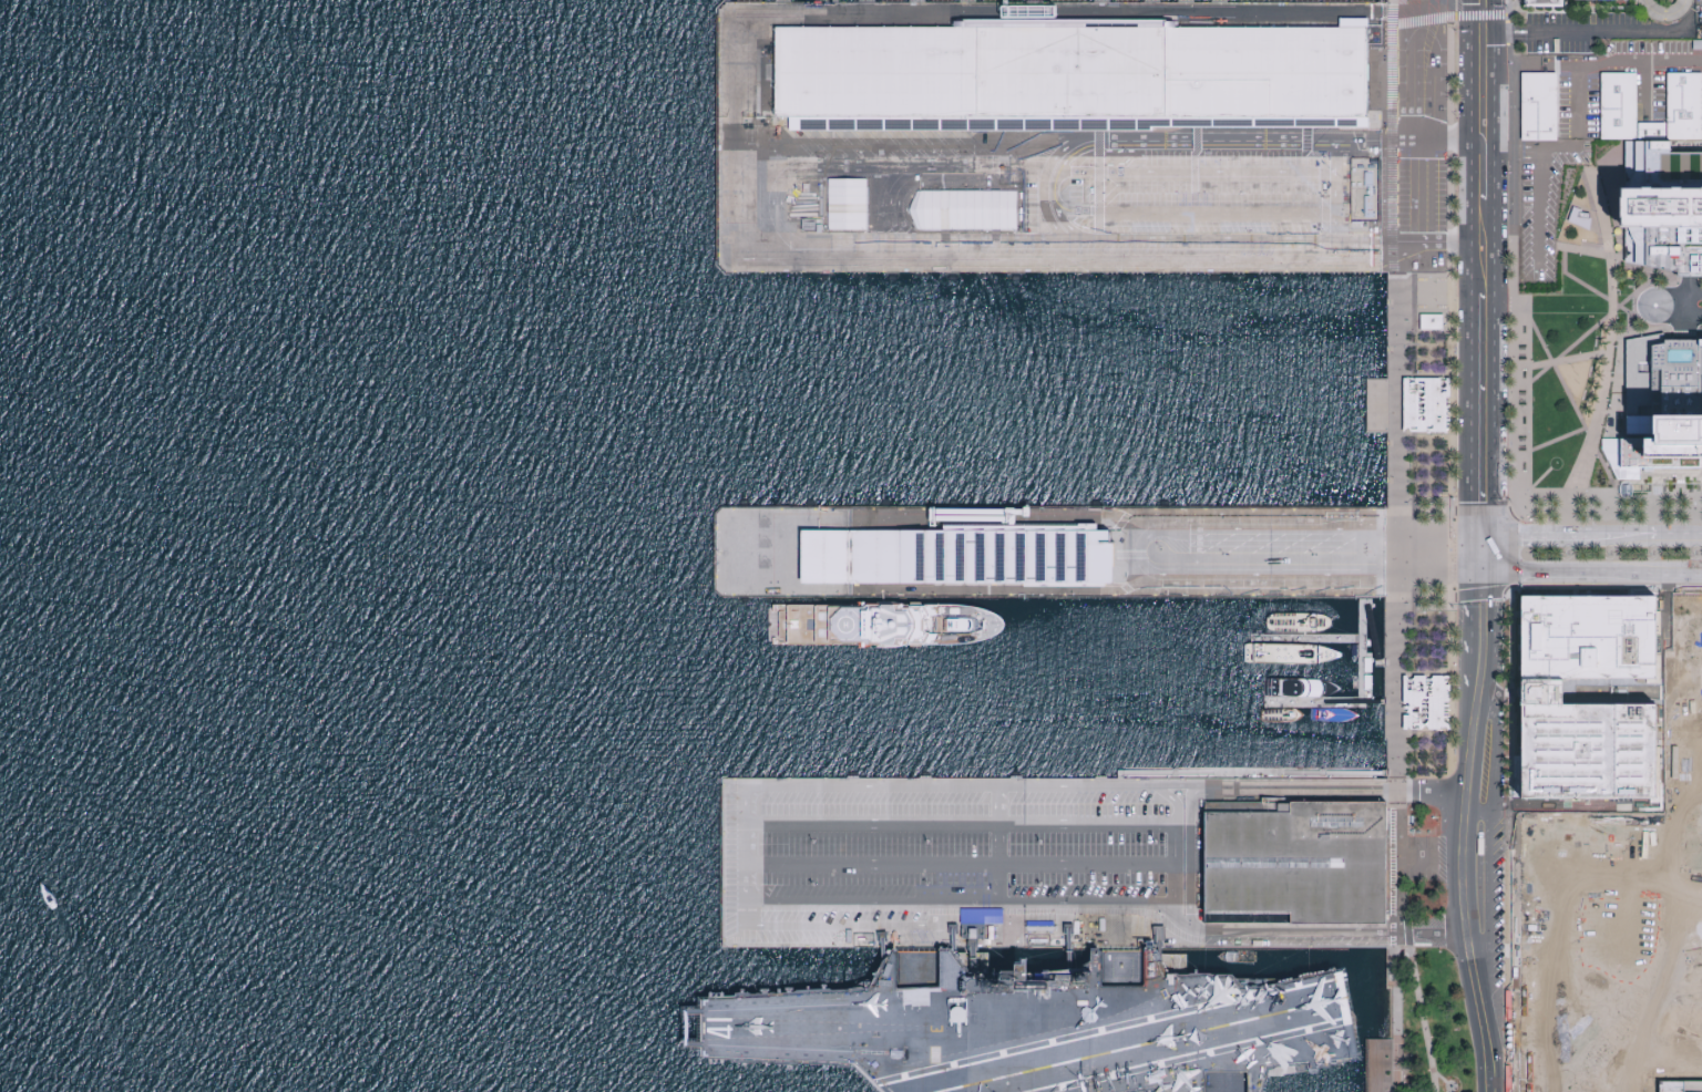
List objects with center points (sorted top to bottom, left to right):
road: (1418, 1)
building: (1542, 4)
road: (1507, 8)
road: (1432, 9)
building: (1664, 9)
parking lot: (1664, 9)
road: (1448, 18)
road: (1603, 31)
toll booth: (1521, 32)
road: (1578, 65)
road: (1411, 71)
building: (1078, 76)
road: (1436, 82)
road: (1645, 87)
building: (1618, 97)
building: (1538, 109)
parking lot: (1586, 131)
pier: (1054, 133)
road: (1470, 143)
road: (1479, 144)
road: (1192, 171)
building: (1361, 176)
road: (783, 178)
road: (1537, 186)
road: (1412, 193)
road: (1042, 196)
building: (852, 205)
building: (968, 209)
building: (1661, 209)
road: (1226, 214)
road: (1391, 239)
road: (1437, 240)
road: (1494, 267)
parking lot: (1690, 274)
road: (1689, 288)
road: (1679, 302)
road: (1628, 310)
road: (1516, 320)
building: (1433, 322)
road: (1581, 336)
road: (1610, 347)
park: (1572, 364)
road: (1571, 400)
building: (1664, 403)
building: (1426, 405)
road: (1472, 410)
road: (1589, 432)
road: (1629, 494)
road: (1520, 526)
road: (1298, 529)
road: (1469, 535)
road: (1484, 535)
road: (1507, 536)
road: (1586, 536)
road: (1677, 537)
road: (1396, 538)
pier: (1049, 553)
road: (1472, 553)
road: (1495, 554)
building: (957, 557)
road: (1468, 570)
road: (1483, 570)
road: (1598, 571)
road: (1293, 574)
road: (1472, 589)
road: (1393, 615)
building: (1292, 619)
road: (1398, 630)
road: (1361, 631)
road: (1372, 633)
road: (1304, 638)
road: (1470, 653)
pier: (1364, 656)
road: (1388, 662)
road: (1358, 668)
road: (1325, 699)
building: (1425, 701)
road: (1320, 702)
road: (1354, 702)
road: (1392, 702)
road: (1495, 763)
road: (1340, 789)
road: (976, 790)
road: (1172, 802)
road: (960, 824)
road: (1481, 824)
road: (1393, 826)
road: (746, 830)
road: (1470, 832)
road: (998, 847)
road: (1189, 854)
parking lot: (921, 859)
road: (1427, 862)
pier: (720, 864)
road: (1173, 865)
road: (960, 867)
building: (1301, 868)
road: (1403, 878)
road: (1452, 896)
road: (824, 907)
road: (1055, 907)
road: (1488, 911)
building: (981, 914)
road: (974, 920)
road: (1178, 920)
road: (839, 928)
road: (1323, 935)
road: (1394, 1021)
building: (1048, 1027)
park: (1419, 1030)
road: (1692, 1088)

